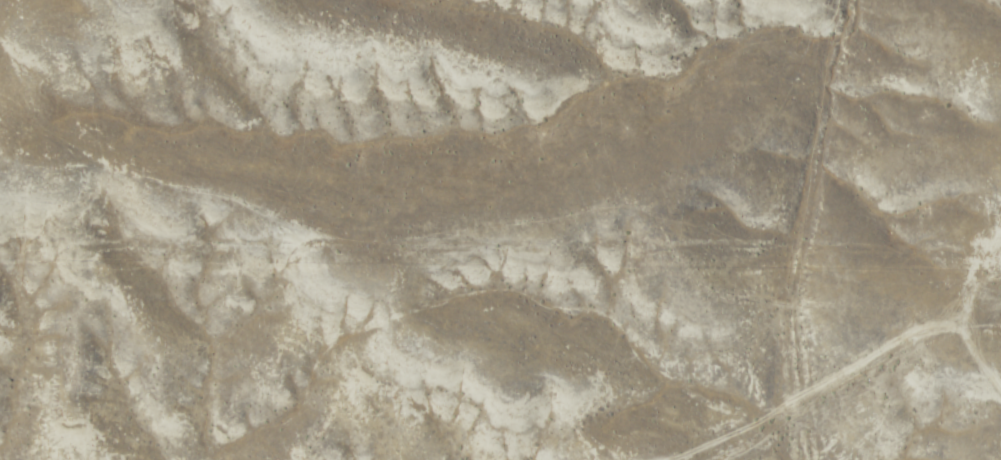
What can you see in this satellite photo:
crop: (500, 230)

